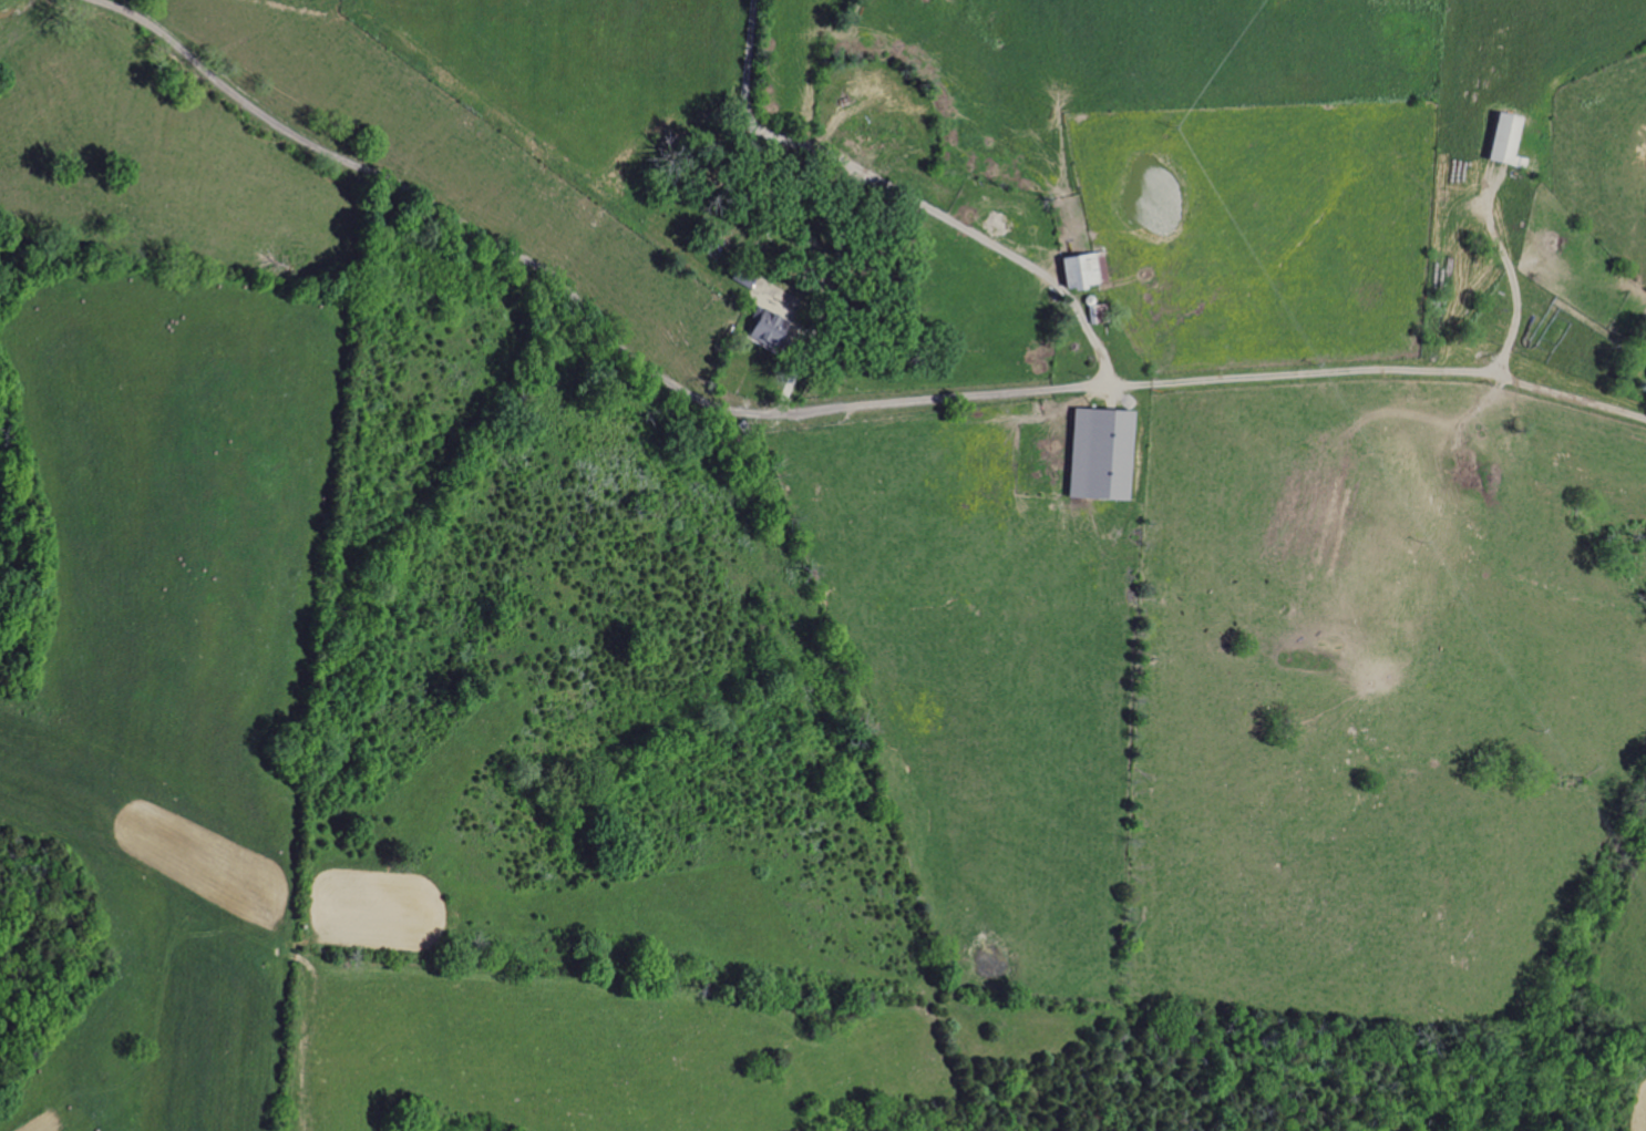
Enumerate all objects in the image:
building: (1500, 136)
road: (939, 185)
building: (1078, 268)
road: (1513, 278)
building: (764, 327)
road: (815, 409)
building: (1095, 452)

